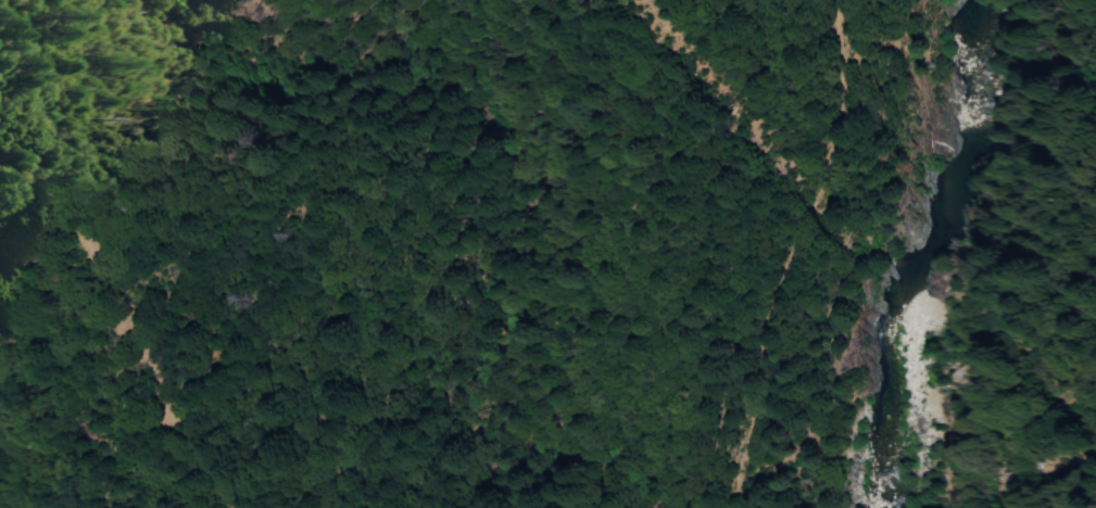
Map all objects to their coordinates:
river: (975, 81)
river: (893, 328)

